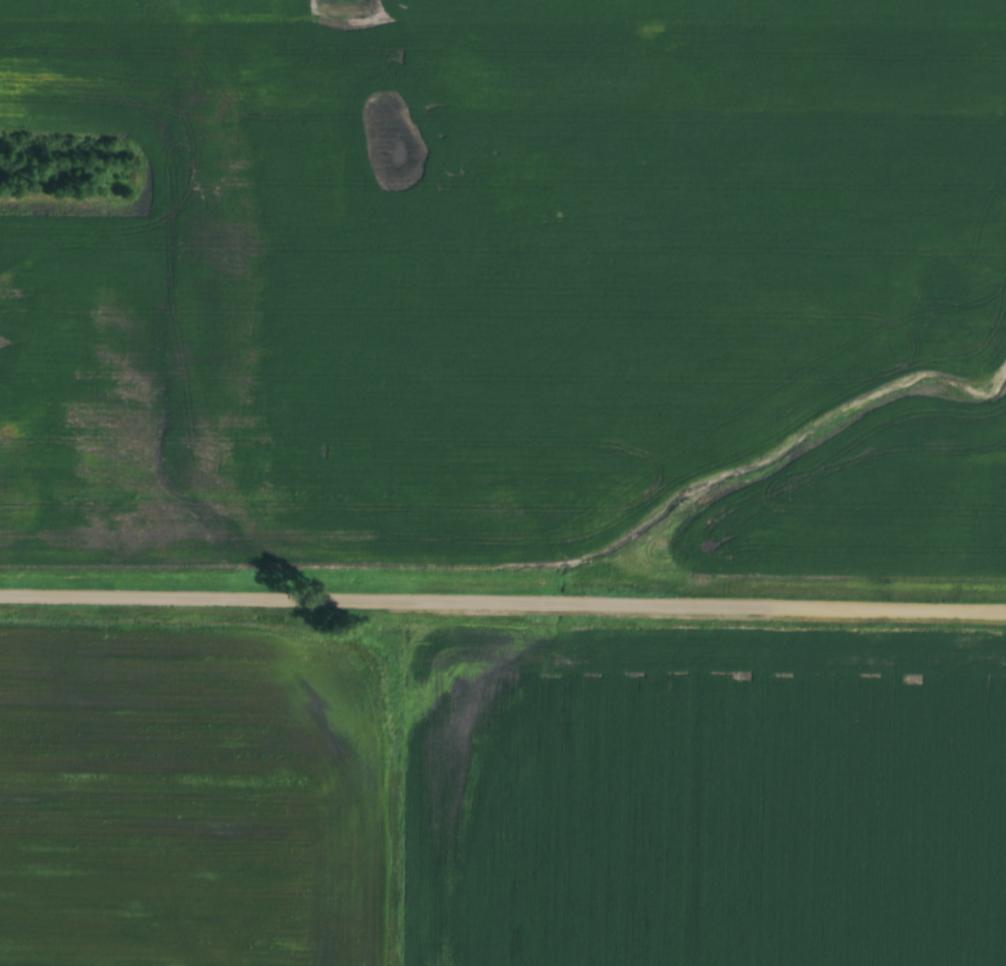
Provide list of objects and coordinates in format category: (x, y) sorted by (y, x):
road: (503, 611)

